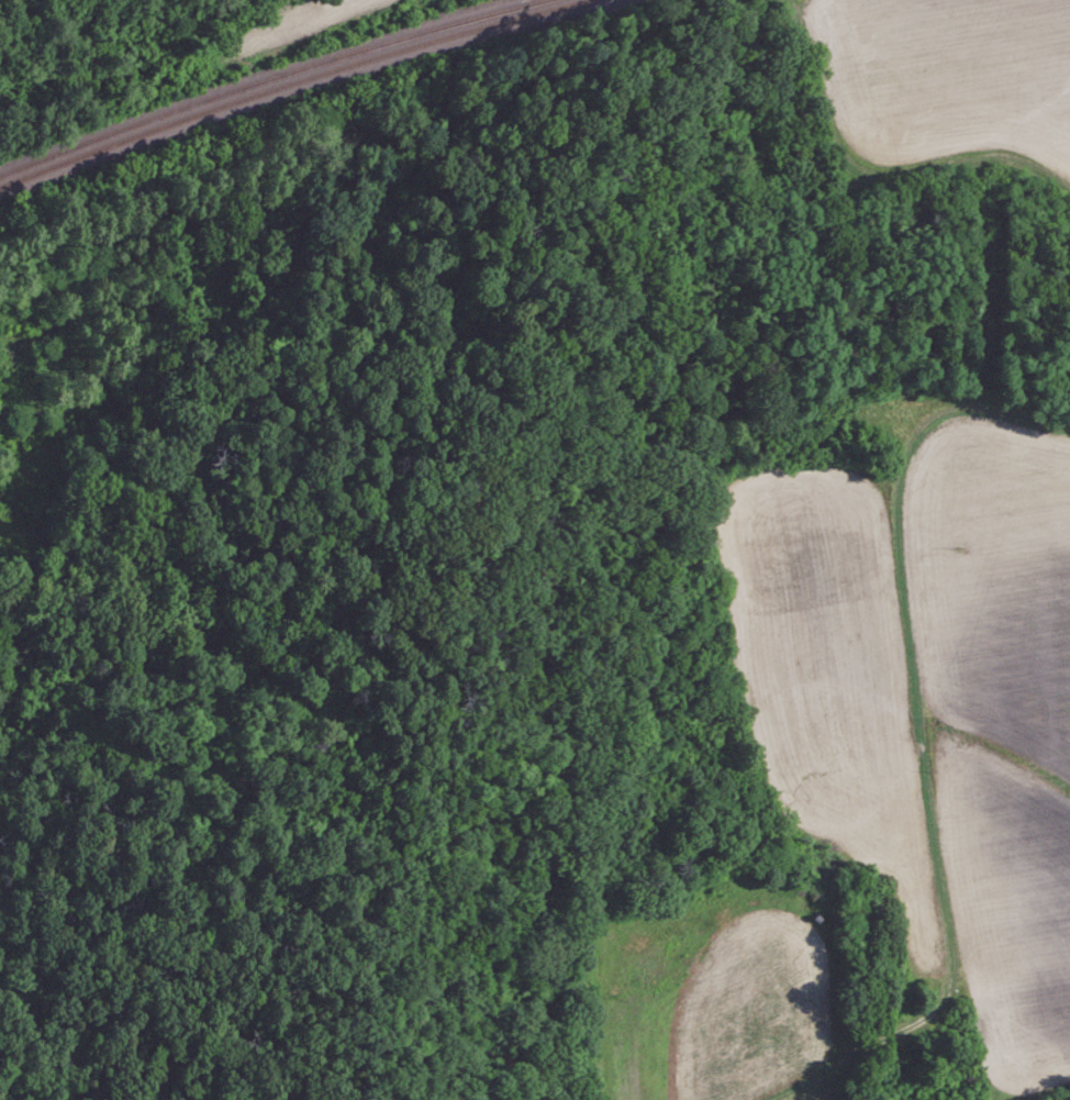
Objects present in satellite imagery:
railway: (266, 78)
railway: (294, 82)

